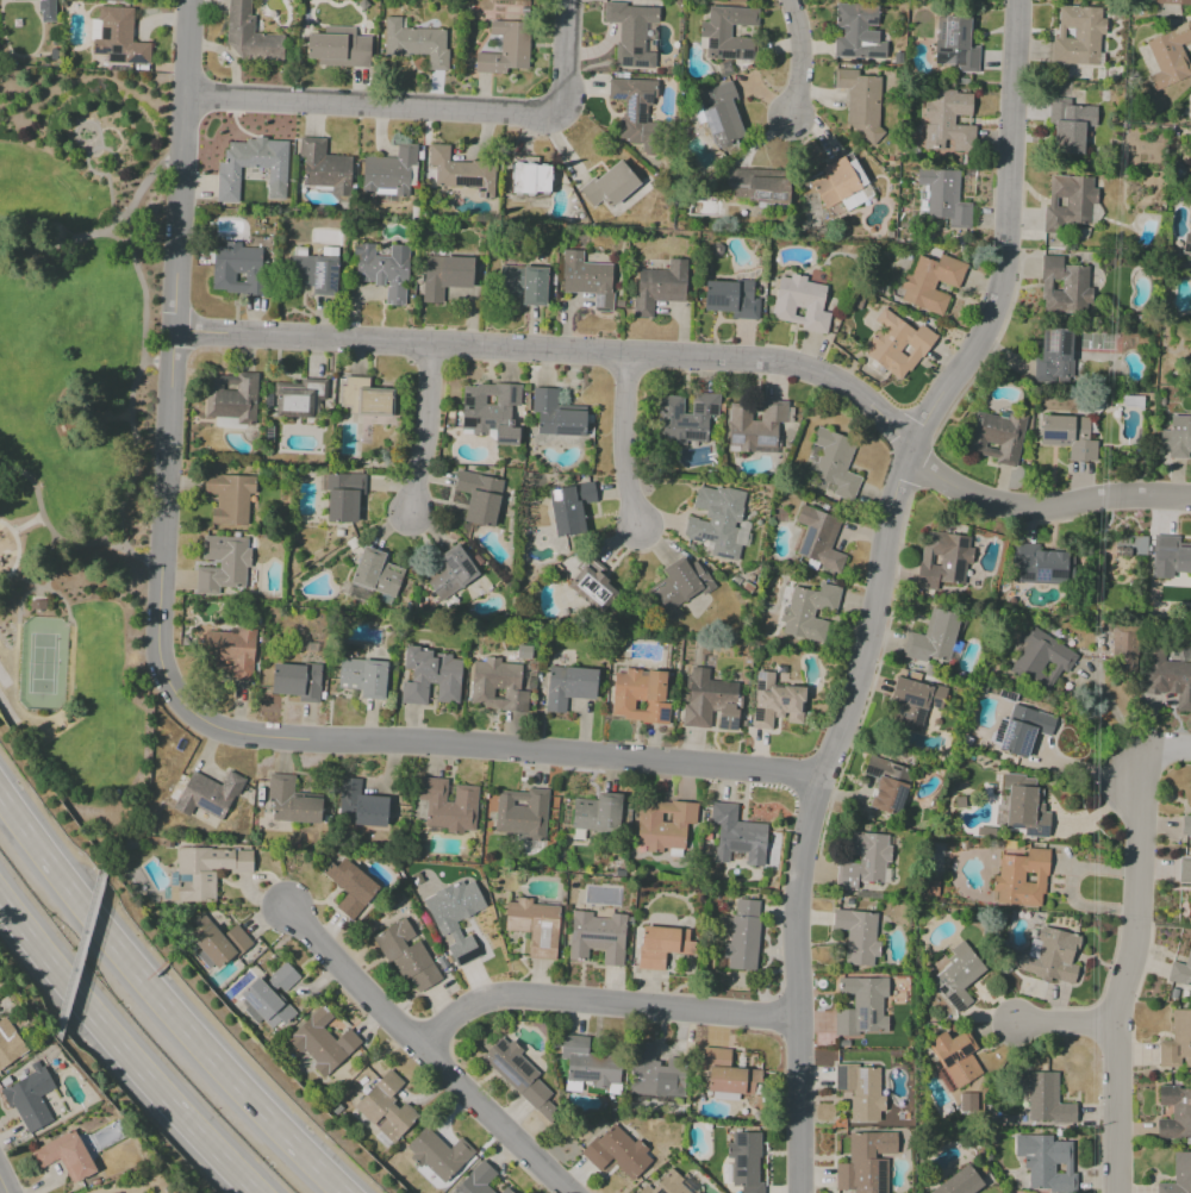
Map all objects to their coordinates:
building: (1178, 1)
building: (46, 10)
rooftop solar panel: (872, 21)
building: (855, 31)
building: (249, 33)
building: (729, 33)
building: (631, 36)
building: (119, 37)
building: (1080, 38)
road: (565, 39)
rooftop solar panel: (625, 39)
building: (417, 43)
rooftop solar panel: (711, 44)
building: (956, 45)
building: (338, 46)
rooftop solar panel: (100, 49)
building: (506, 49)
rooftop solar panel: (843, 51)
rooftop solar panel: (717, 52)
rooftop solar panel: (735, 54)
rooftop solar panel: (746, 54)
rooftop solar panel: (724, 55)
rooftop solar panel: (871, 55)
road: (798, 58)
building: (1171, 58)
rooftop solar panel: (135, 60)
rooftop solar panel: (625, 64)
rooftop solar panel: (638, 64)
rooftop solar panel: (617, 96)
rooftop solar panel: (646, 98)
building: (861, 98)
road: (386, 105)
rooftop solar panel: (630, 107)
building: (636, 112)
building: (719, 113)
rooftop solar panel: (698, 115)
rooftop solar panel: (710, 119)
road: (82, 121)
building: (948, 123)
building: (1068, 126)
road: (108, 129)
building: (1140, 145)
road: (96, 156)
road: (87, 160)
building: (250, 167)
building: (322, 168)
building: (391, 171)
building: (462, 173)
building: (530, 179)
rooftop solar panel: (464, 180)
building: (835, 183)
building: (610, 186)
building: (1152, 188)
building: (755, 189)
road: (111, 199)
building: (939, 200)
building: (1070, 206)
road: (106, 230)
road: (116, 237)
road: (1006, 237)
building: (1187, 243)
building: (237, 269)
building: (385, 273)
rooftop solar panel: (314, 274)
building: (314, 275)
rooftop solar panel: (333, 276)
building: (443, 277)
building: (588, 280)
building: (931, 285)
building: (1064, 286)
building: (524, 287)
building: (660, 287)
building: (732, 299)
building: (799, 304)
rooftop solar panel: (1045, 339)
rooftop solar panel: (1052, 343)
rooftop solar panel: (1065, 344)
building: (894, 346)
building: (1054, 351)
road: (148, 361)
road: (162, 361)
road: (705, 363)
road: (136, 383)
building: (366, 396)
building: (229, 398)
rooftop solar panel: (268, 401)
building: (294, 404)
rooftop solar panel: (697, 407)
rooftop solar panel: (711, 410)
building: (491, 411)
building: (556, 416)
building: (688, 419)
building: (759, 427)
park: (82, 431)
road: (424, 432)
rooftop solar panel: (694, 435)
rooftop solar panel: (1050, 435)
rooftop solar panel: (268, 436)
building: (1067, 436)
building: (998, 437)
building: (1177, 439)
road: (632, 443)
building: (829, 463)
building: (229, 499)
building: (343, 499)
building: (478, 499)
building: (573, 508)
building: (722, 521)
road: (29, 524)
road: (107, 533)
road: (60, 541)
building: (822, 541)
road: (18, 550)
building: (1170, 562)
road: (50, 563)
building: (943, 563)
building: (226, 566)
building: (1041, 566)
building: (451, 570)
building: (375, 574)
rooftop solar panel: (1034, 575)
road: (25, 581)
building: (680, 585)
building: (597, 586)
building: (38, 605)
building: (816, 614)
building: (933, 638)
building: (1125, 650)
building: (236, 651)
building: (1040, 660)
park: (43, 663)
building: (349, 674)
road: (164, 675)
building: (430, 675)
rooftop solar panel: (759, 675)
building: (1168, 676)
building: (373, 680)
building: (297, 681)
building: (501, 683)
building: (569, 687)
rooftop solar panel: (759, 687)
building: (917, 694)
building: (640, 697)
building: (778, 699)
rooftop solar panel: (911, 699)
rooftop solar panel: (781, 700)
building: (711, 701)
road: (1110, 706)
rooftop solar panel: (663, 713)
rooftop solar panel: (759, 713)
building: (908, 718)
rooftop solar panel: (916, 720)
road: (44, 722)
building: (1024, 730)
rooftop solar panel: (1005, 733)
rooftop solar panel: (1025, 742)
road: (1168, 751)
building: (887, 783)
building: (210, 793)
building: (289, 800)
rooftop solar panel: (578, 802)
building: (960, 802)
building: (450, 804)
building: (361, 805)
rooftop solar panel: (587, 805)
rooftop solar panel: (207, 806)
building: (1025, 812)
rooftop solar panel: (582, 813)
building: (597, 813)
road: (807, 813)
rooftop solar panel: (200, 814)
building: (523, 816)
building: (665, 826)
building: (1185, 826)
rooftop solar panel: (1036, 833)
building: (579, 835)
building: (738, 836)
building: (862, 861)
building: (1184, 870)
building: (206, 872)
building: (1021, 879)
building: (351, 887)
building: (933, 888)
building: (850, 902)
building: (455, 905)
building: (1190, 905)
building: (202, 922)
building: (534, 925)
building: (1033, 933)
rooftop solar panel: (585, 936)
building: (858, 936)
building: (597, 937)
building: (744, 937)
building: (238, 938)
rooftop solar panel: (600, 938)
building: (660, 947)
building: (1033, 947)
building: (216, 948)
building: (463, 950)
building: (946, 951)
building: (1050, 956)
building: (411, 958)
road: (1124, 970)
building: (1180, 970)
building: (958, 980)
rooftop solar panel: (941, 989)
building: (272, 998)
road: (162, 1001)
road: (599, 1001)
rooftop solar panel: (955, 1001)
rooftop solar panel: (250, 1003)
building: (861, 1005)
rooftop solar panel: (873, 1018)
rooftop solar panel: (866, 1019)
road: (1064, 1023)
building: (323, 1042)
building: (1177, 1042)
building: (8, 1043)
rooftop solar panel: (500, 1047)
road: (121, 1051)
road: (424, 1051)
rooftop solar panel: (965, 1051)
rooftop solar panel: (960, 1056)
rooftop solar panel: (952, 1057)
building: (954, 1060)
rooftop solar panel: (515, 1061)
building: (587, 1068)
rooftop solar panel: (507, 1069)
rooftop solar panel: (524, 1070)
rooftop solar panel: (504, 1072)
building: (659, 1073)
building: (519, 1075)
rooftop solar panel: (581, 1075)
rooftop solar panel: (595, 1075)
building: (727, 1075)
rooftop solar panel: (838, 1079)
rooftop solar panel: (863, 1079)
building: (860, 1091)
building: (29, 1098)
building: (1045, 1098)
building: (967, 1101)
building: (387, 1108)
building: (1174, 1112)
rooftop solar panel: (743, 1138)
building: (617, 1151)
building: (442, 1154)
building: (64, 1155)
rooftop solar panel: (743, 1161)
building: (747, 1162)
building: (867, 1162)
building: (1046, 1162)
building: (1178, 1174)
rooftop solar panel: (742, 1175)
building: (475, 1180)
rooftop solar panel: (881, 1180)
building: (960, 1181)
building: (668, 1185)
road: (2, 1188)
building: (507, 1189)

